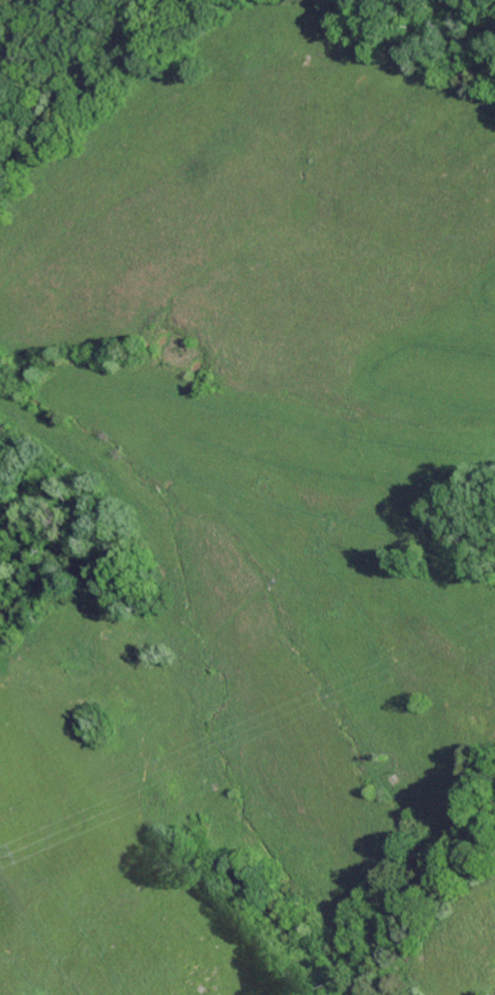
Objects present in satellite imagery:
building: (494, 994)

